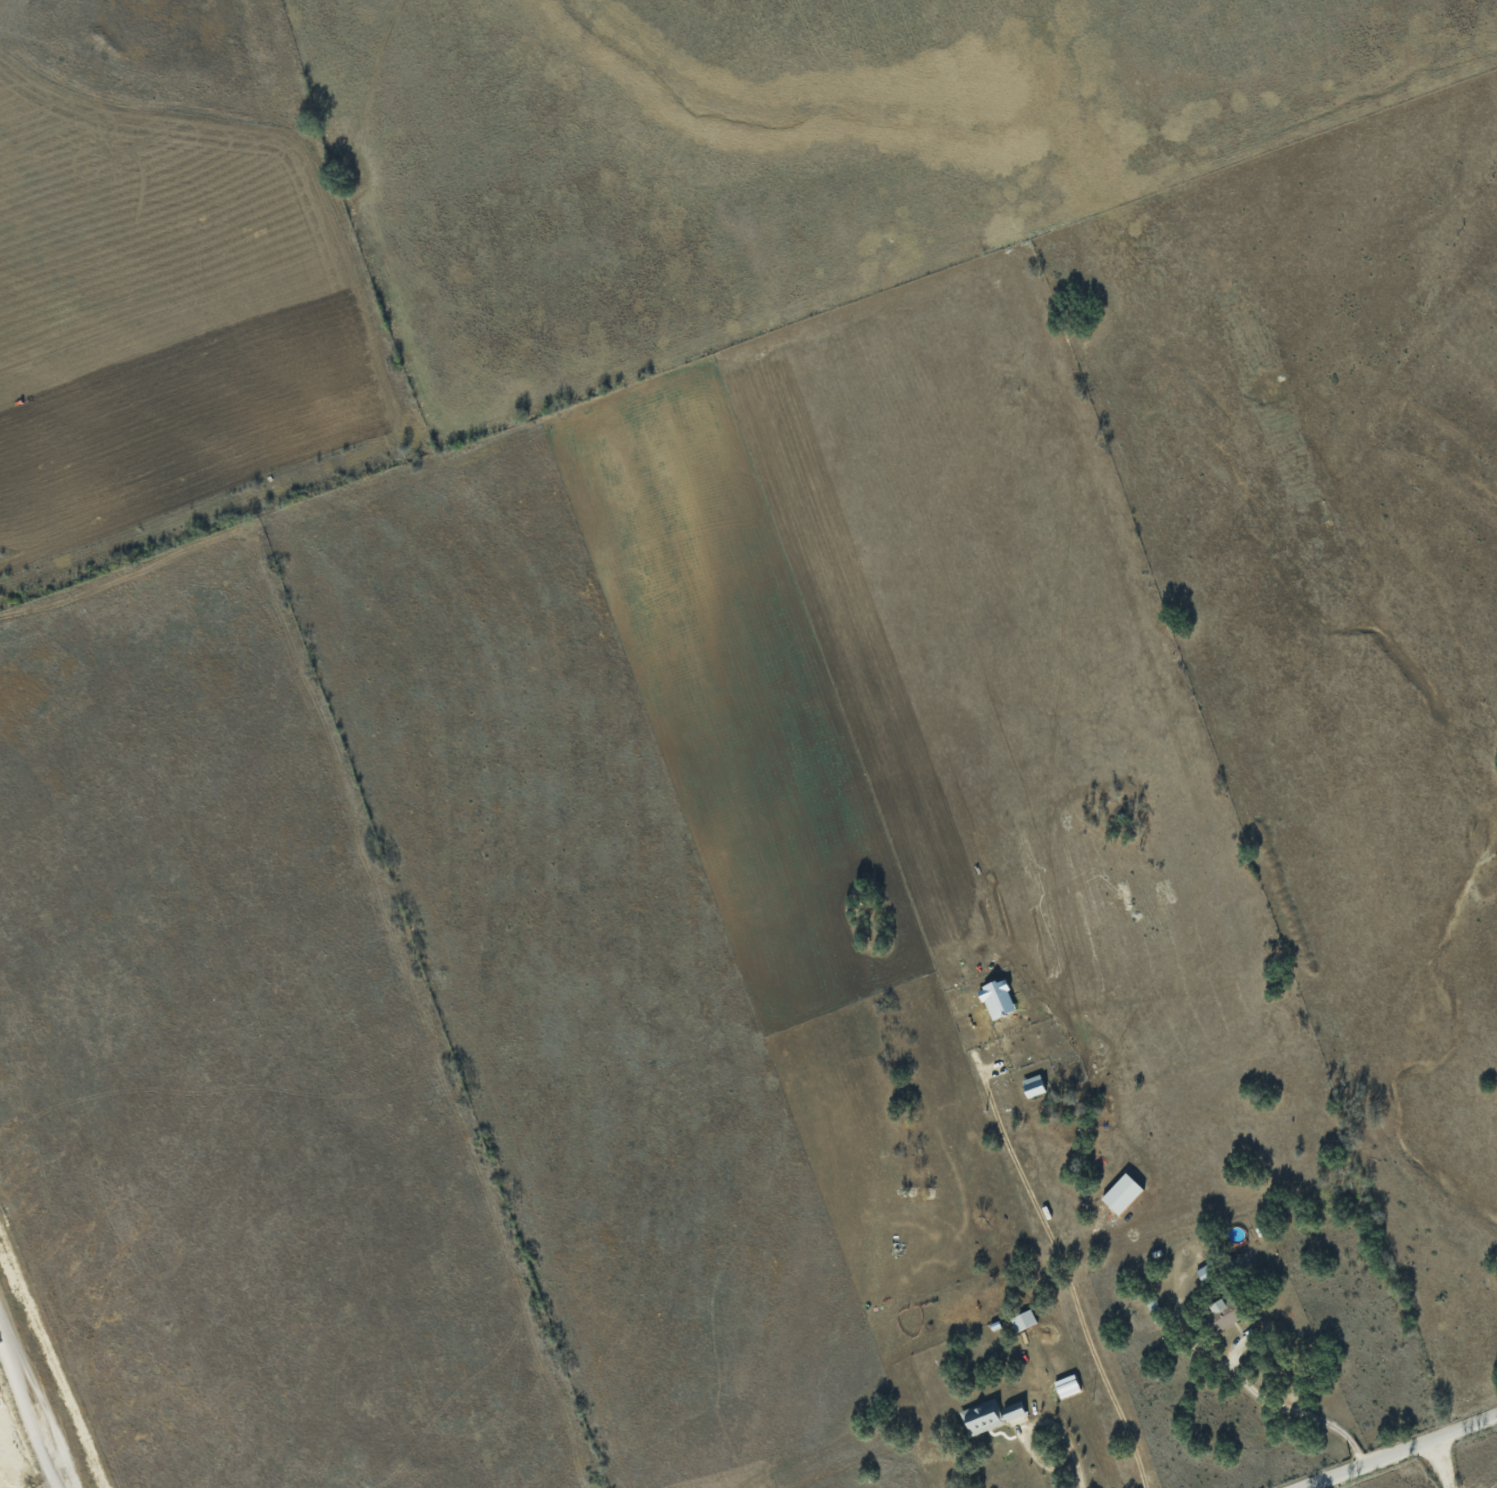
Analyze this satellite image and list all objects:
building: (996, 998)
building: (1121, 1193)
road: (1063, 1272)
building: (1220, 1314)
building: (1022, 1320)
road: (1299, 1406)
building: (1013, 1410)
building: (982, 1416)
road: (1403, 1452)
road: (1440, 1464)

